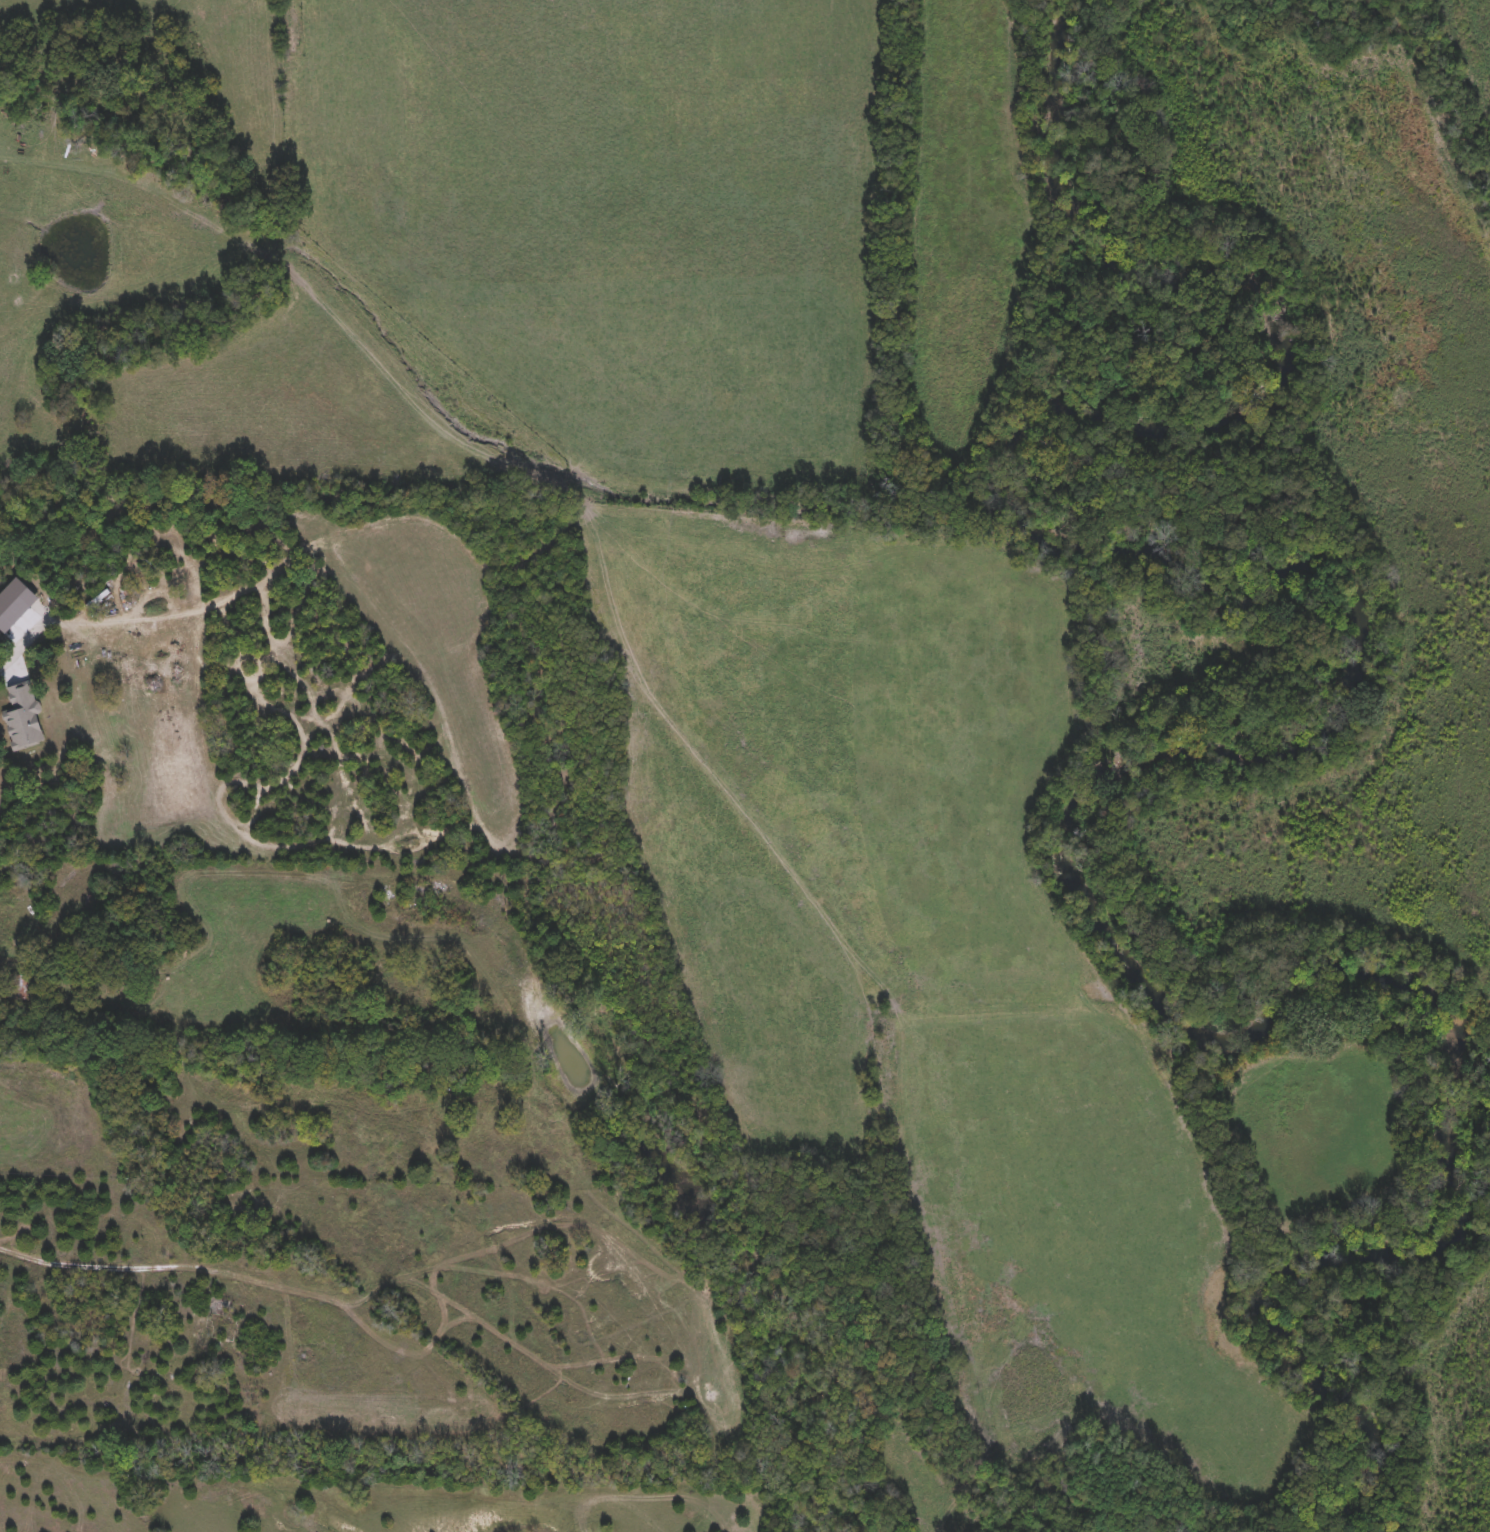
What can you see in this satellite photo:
building: (13, 598)
road: (75, 620)
building: (17, 717)

